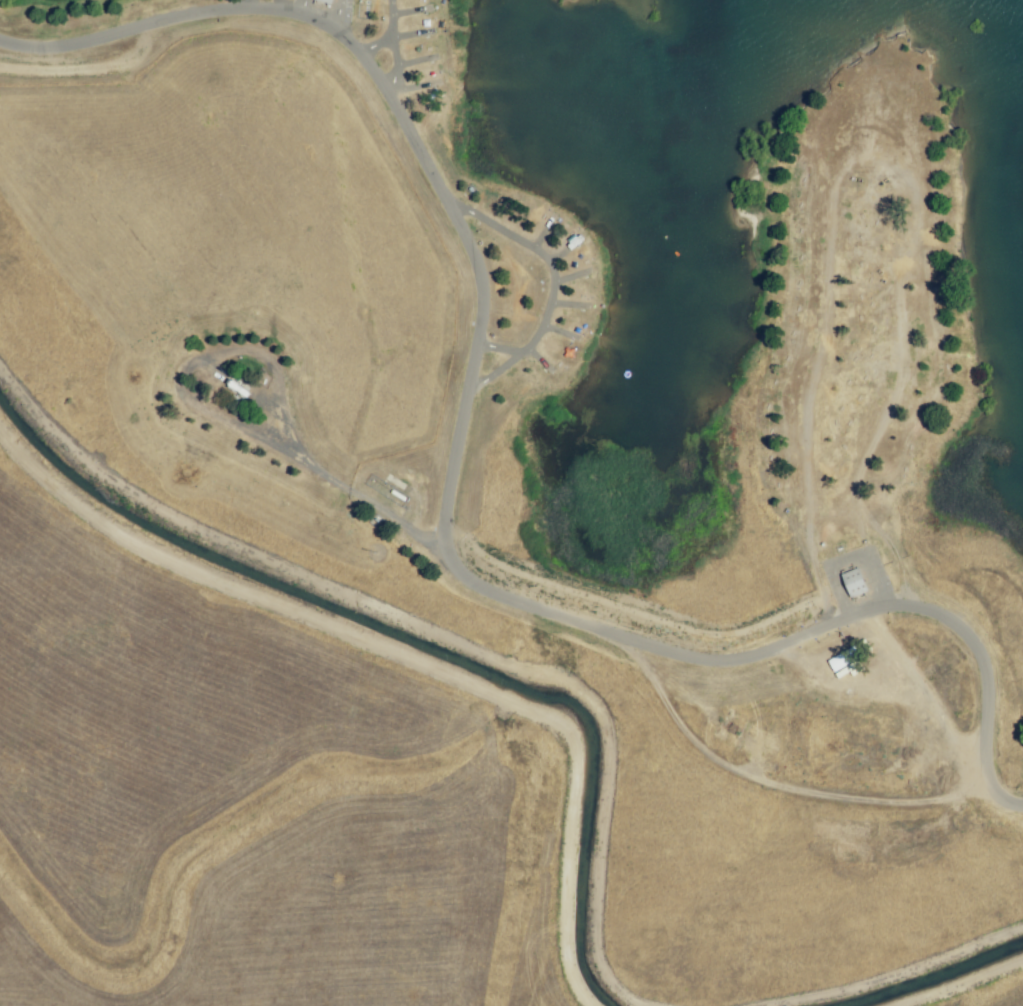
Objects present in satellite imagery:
building: (325, 1)
building: (237, 387)
road: (449, 479)
road: (347, 488)
building: (854, 583)

